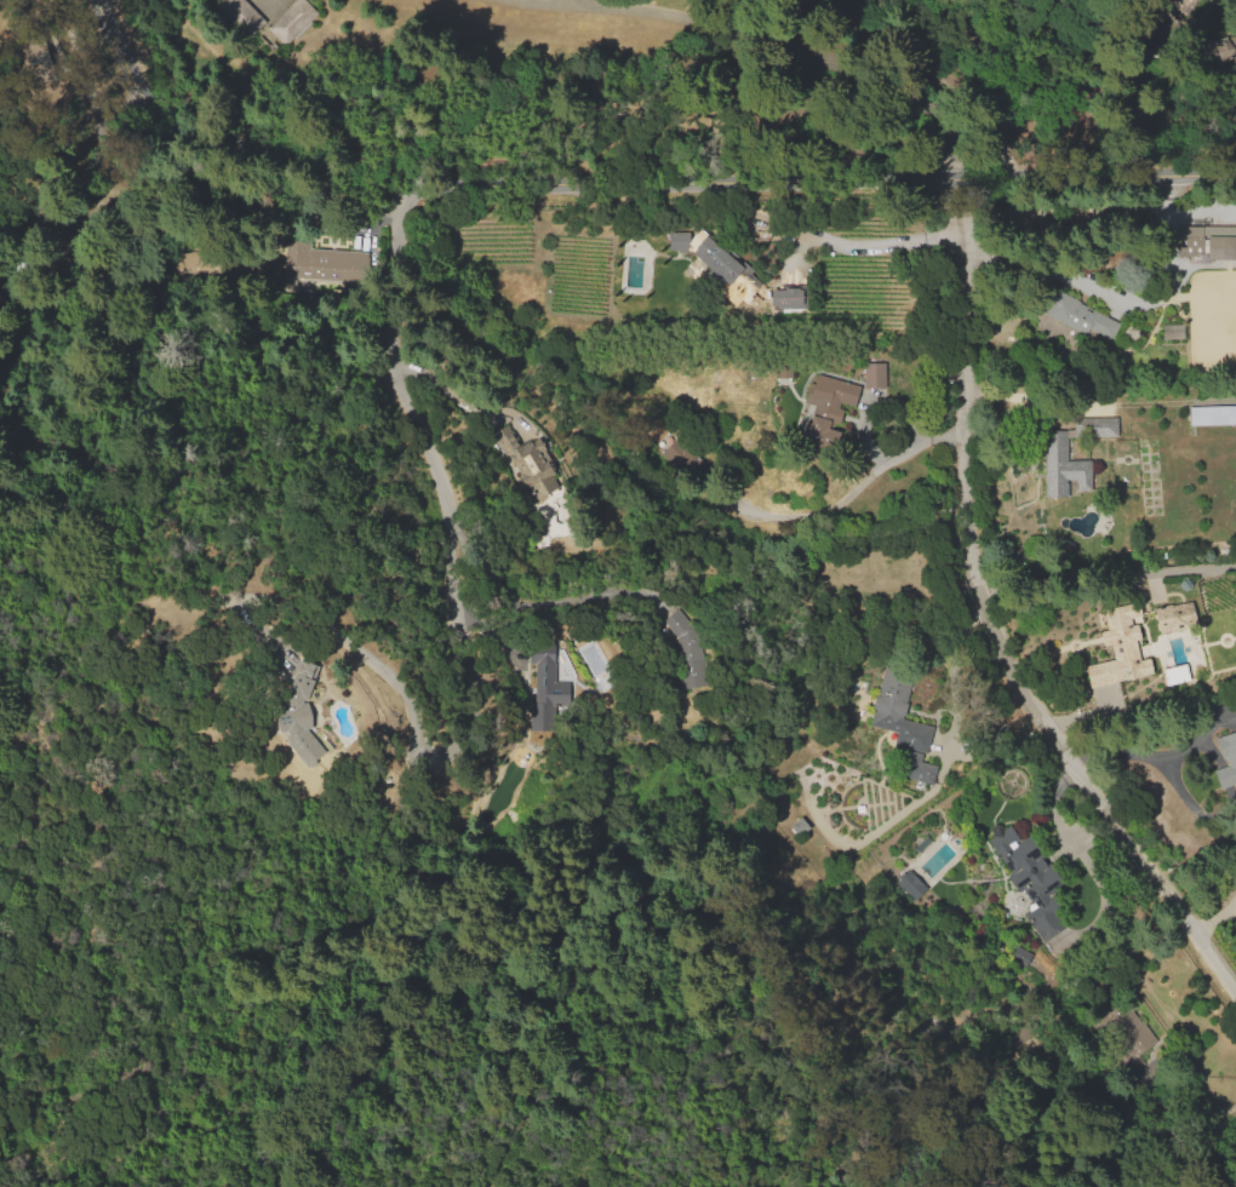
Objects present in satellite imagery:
road: (565, 0)
building: (271, 24)
road: (782, 35)
building: (1215, 50)
building: (42, 58)
road: (620, 180)
road: (860, 240)
building: (679, 242)
building: (1208, 242)
road: (1169, 254)
building: (324, 262)
building: (731, 273)
building: (785, 296)
building: (1062, 309)
building: (1173, 332)
building: (872, 374)
building: (839, 398)
building: (1214, 418)
building: (818, 431)
building: (680, 455)
building: (527, 464)
building: (1064, 469)
road: (561, 598)
building: (1175, 618)
road: (989, 621)
building: (1126, 636)
building: (686, 648)
building: (549, 684)
building: (301, 712)
building: (916, 739)
road: (424, 751)
road: (1135, 753)
building: (1226, 761)
building: (914, 767)
building: (1026, 871)
building: (910, 884)
road: (1212, 917)
building: (1128, 1027)

